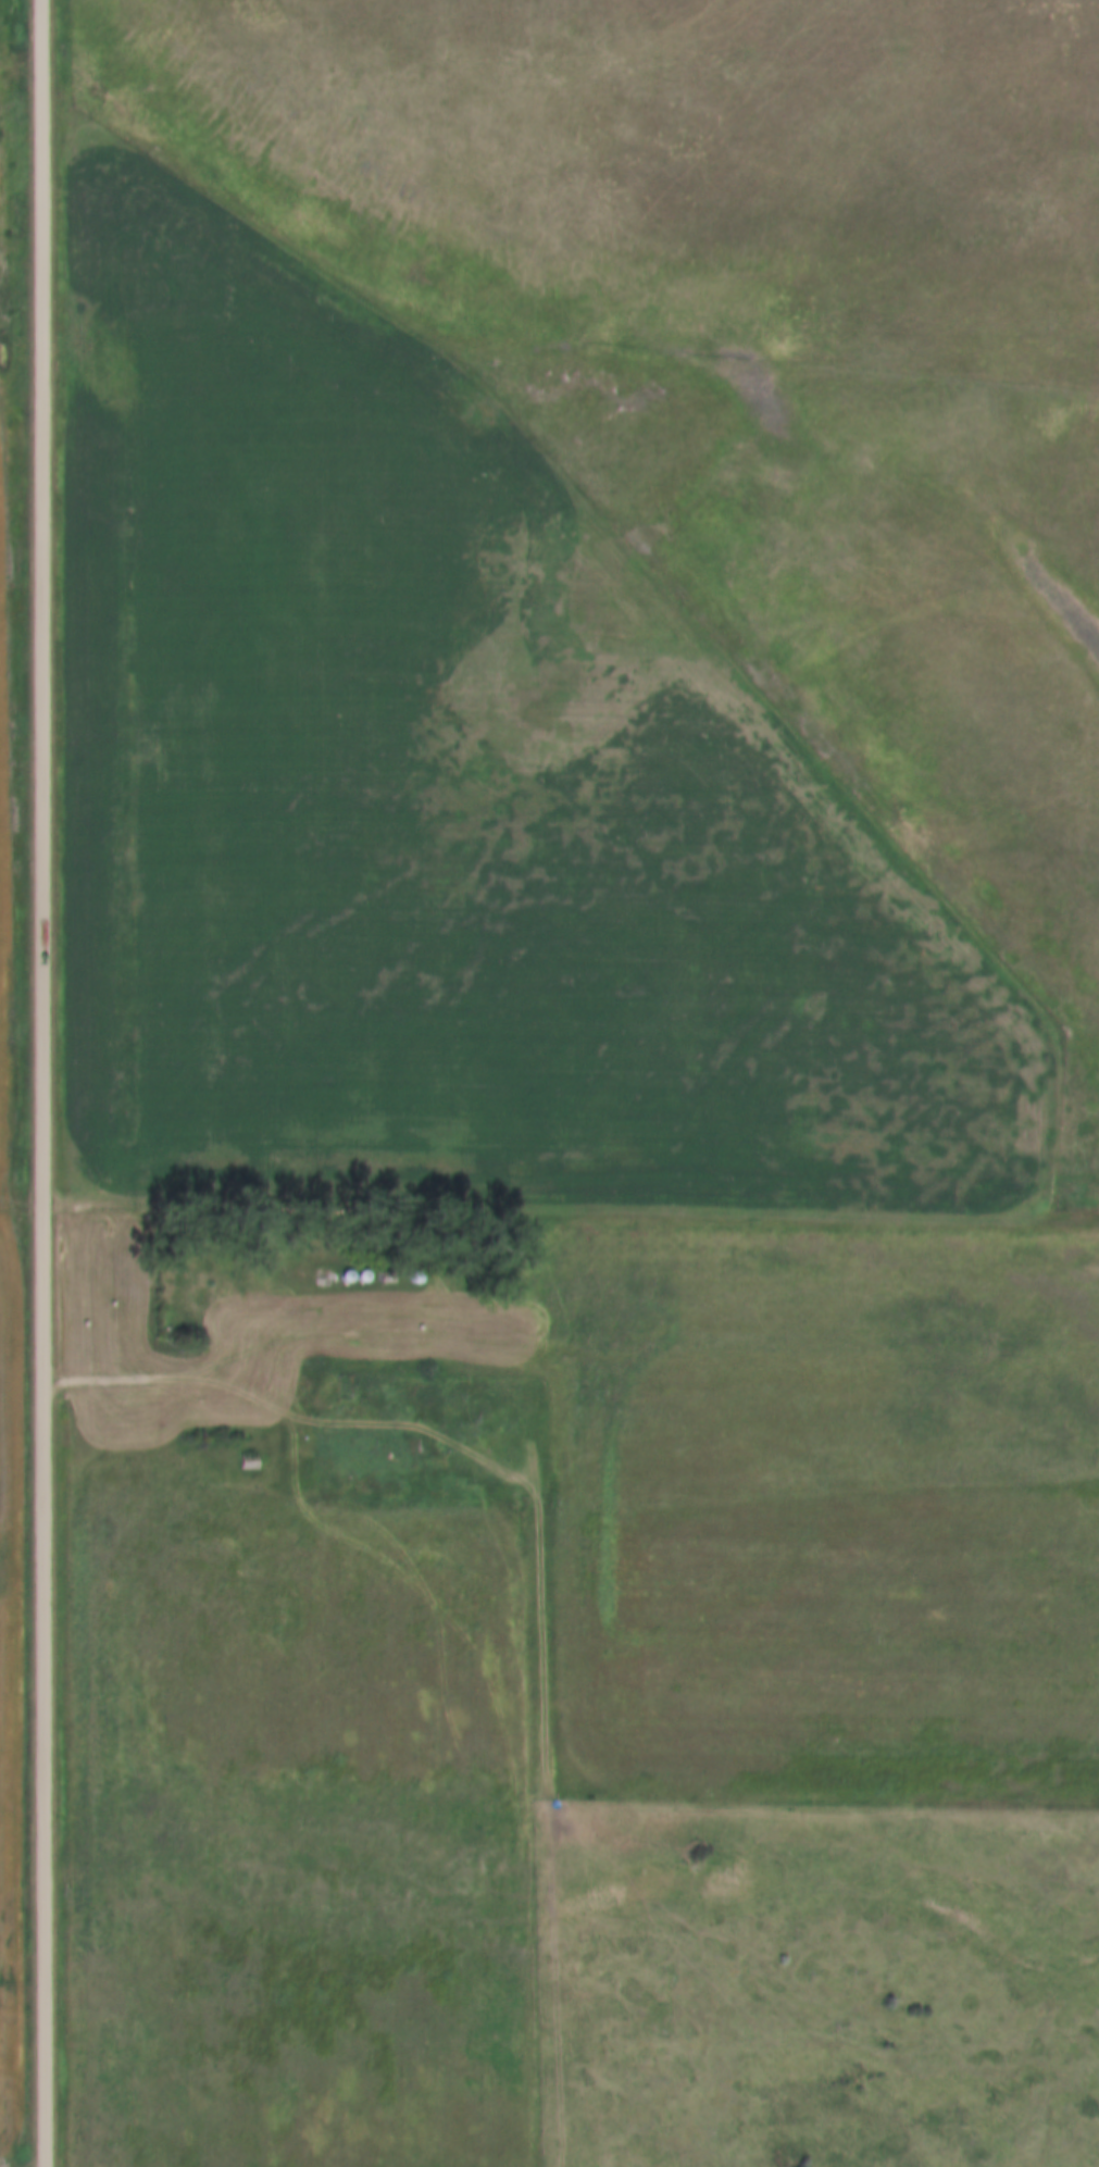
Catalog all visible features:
road: (41, 1083)
road: (570, 1217)
road: (182, 1369)
building: (250, 1464)

